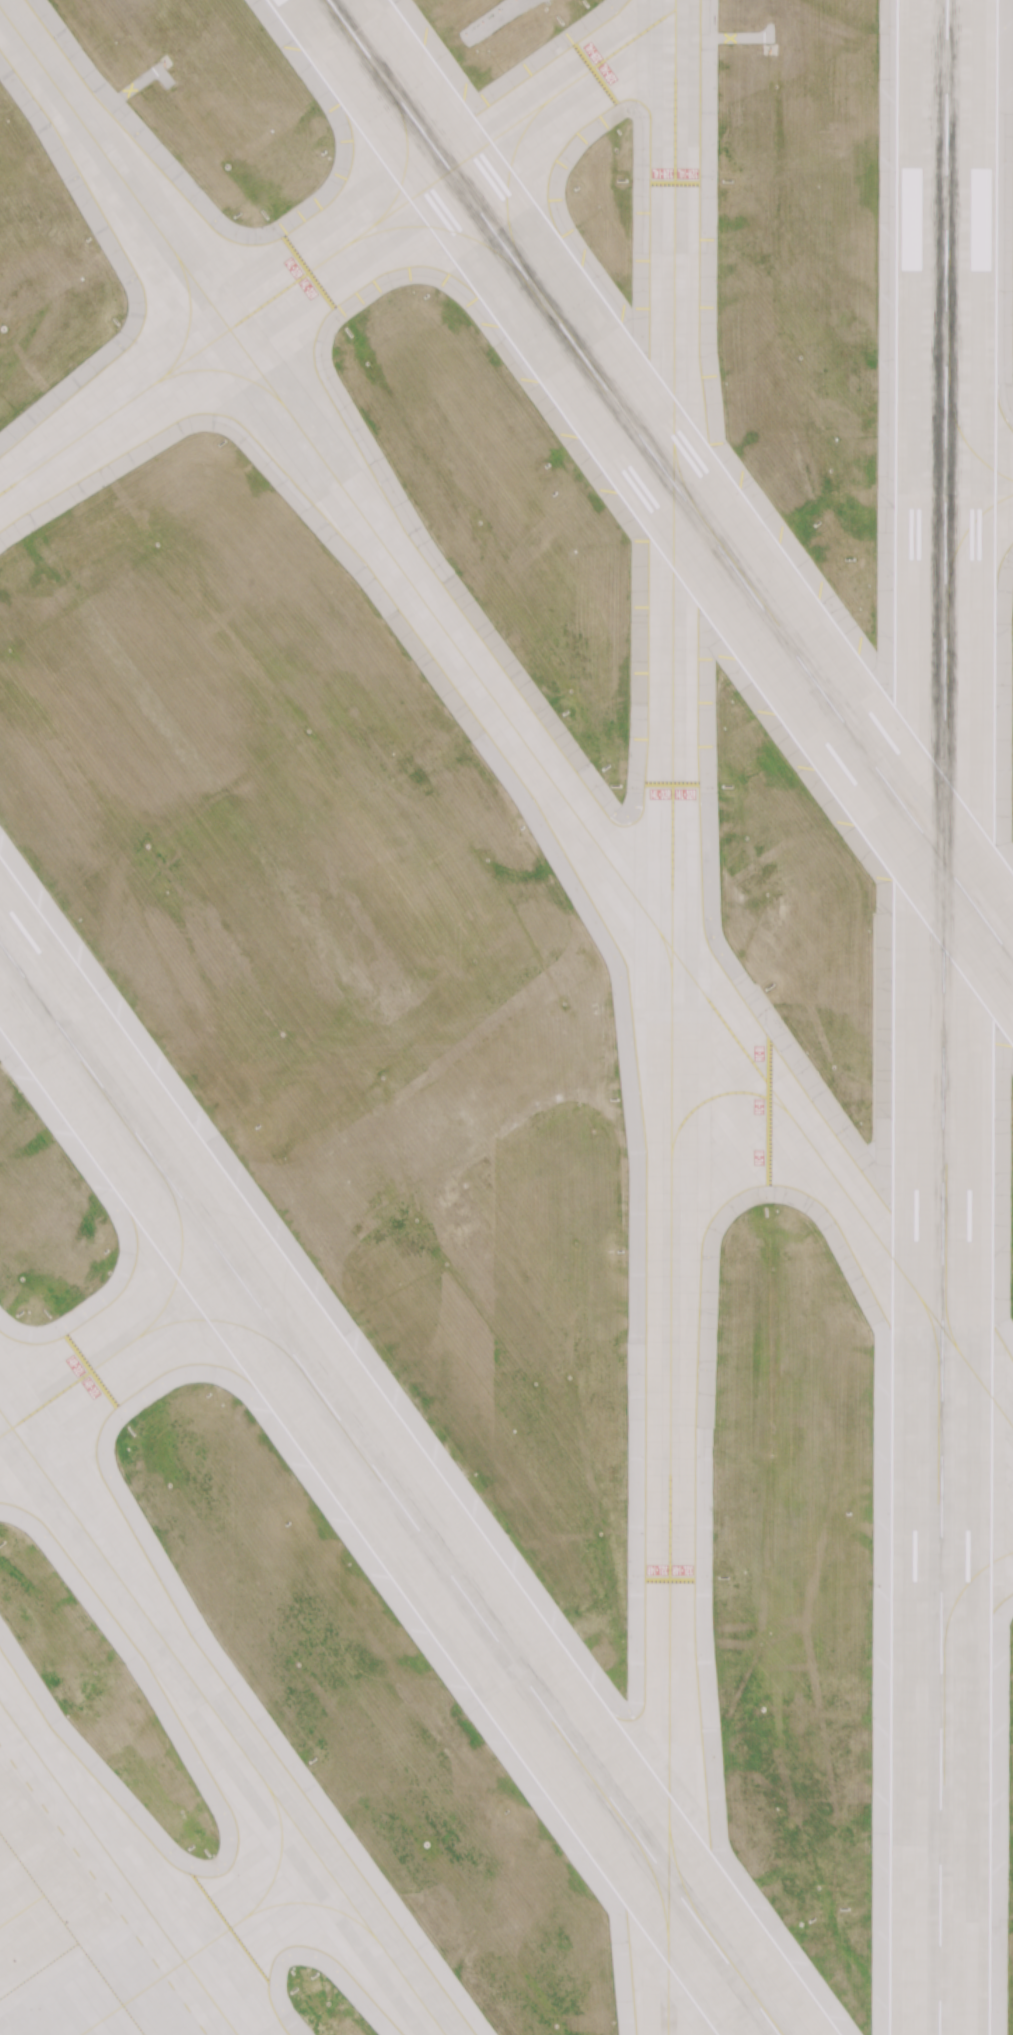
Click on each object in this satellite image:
road: (501, 19)
airport taxiway: (405, 153)
airport taxiway: (508, 176)
airport taxiway: (437, 228)
airport taxiway: (339, 250)
airport taxiway: (187, 324)
airport taxiway: (970, 448)
airport runway: (670, 479)
airport taxiway: (970, 525)
airport taxiway: (507, 718)
airport taxiway: (666, 951)
airport: (506, 1017)
airport taxiway: (672, 1017)
airport runway: (946, 1017)
airport taxiway: (718, 1095)
airport taxiway: (228, 1321)
airport taxiway: (145, 1330)
airport taxiway: (952, 1338)
airport taxiway: (936, 1345)
airport runway: (389, 1489)
airport taxiway: (967, 1584)
airport taxiway: (224, 1723)
airport taxiway: (119, 1868)
airport taxiway: (653, 1879)
airport taxiway: (308, 1903)
airport apron: (91, 1906)
airport taxiway: (226, 1930)

